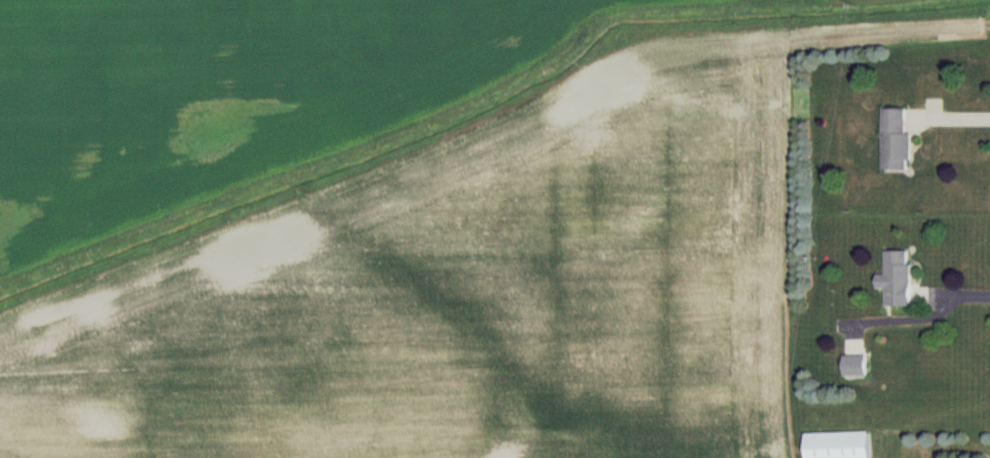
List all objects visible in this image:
road: (953, 118)
building: (900, 143)
building: (900, 276)
building: (861, 364)
building: (841, 447)

